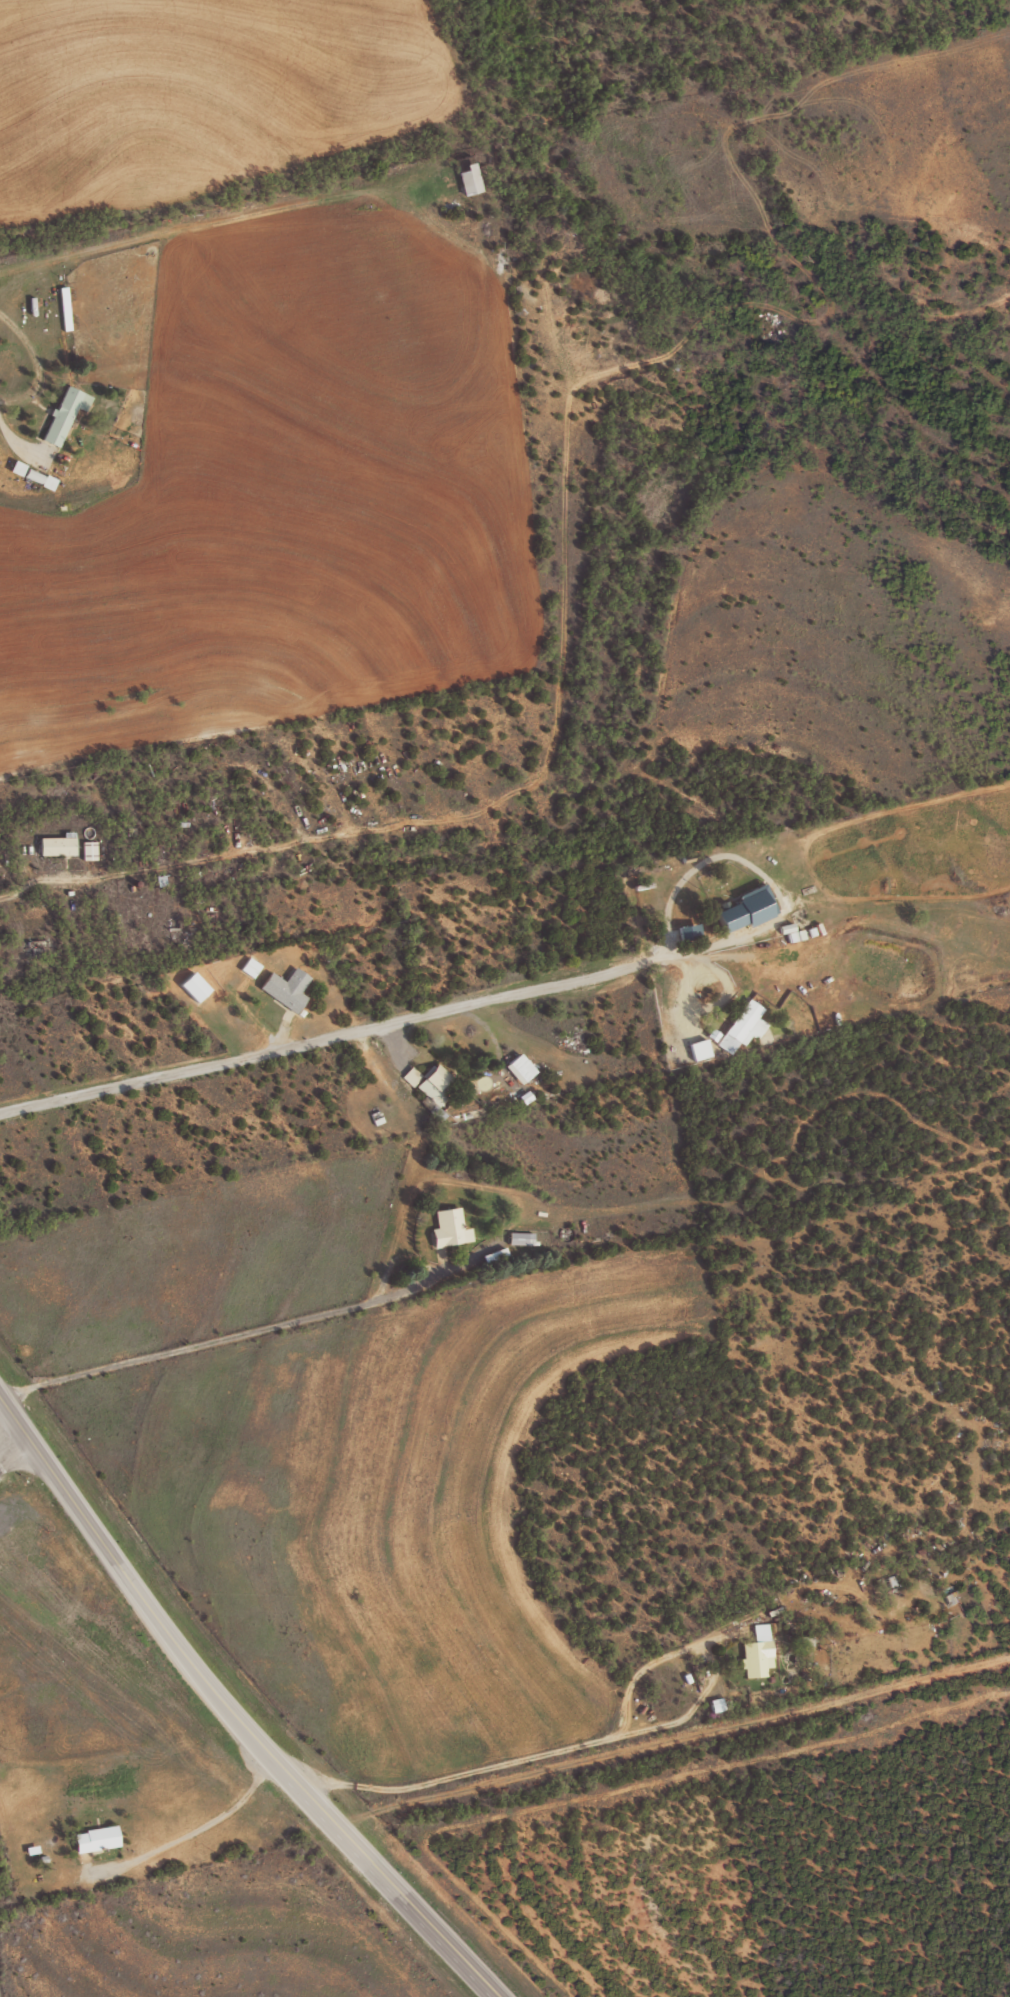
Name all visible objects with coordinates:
building: (465, 178)
building: (66, 413)
building: (34, 475)
building: (53, 844)
building: (85, 850)
road: (759, 871)
road: (45, 878)
building: (737, 910)
building: (791, 935)
building: (246, 966)
building: (189, 986)
building: (282, 988)
building: (738, 1026)
road: (332, 1034)
building: (710, 1035)
building: (695, 1049)
building: (517, 1066)
building: (429, 1084)
road: (497, 1188)
building: (446, 1228)
building: (518, 1238)
road: (187, 1345)
road: (10, 1448)
building: (758, 1651)
building: (720, 1704)
road: (235, 1711)
road: (600, 1737)
building: (98, 1838)
road: (5, 1974)

